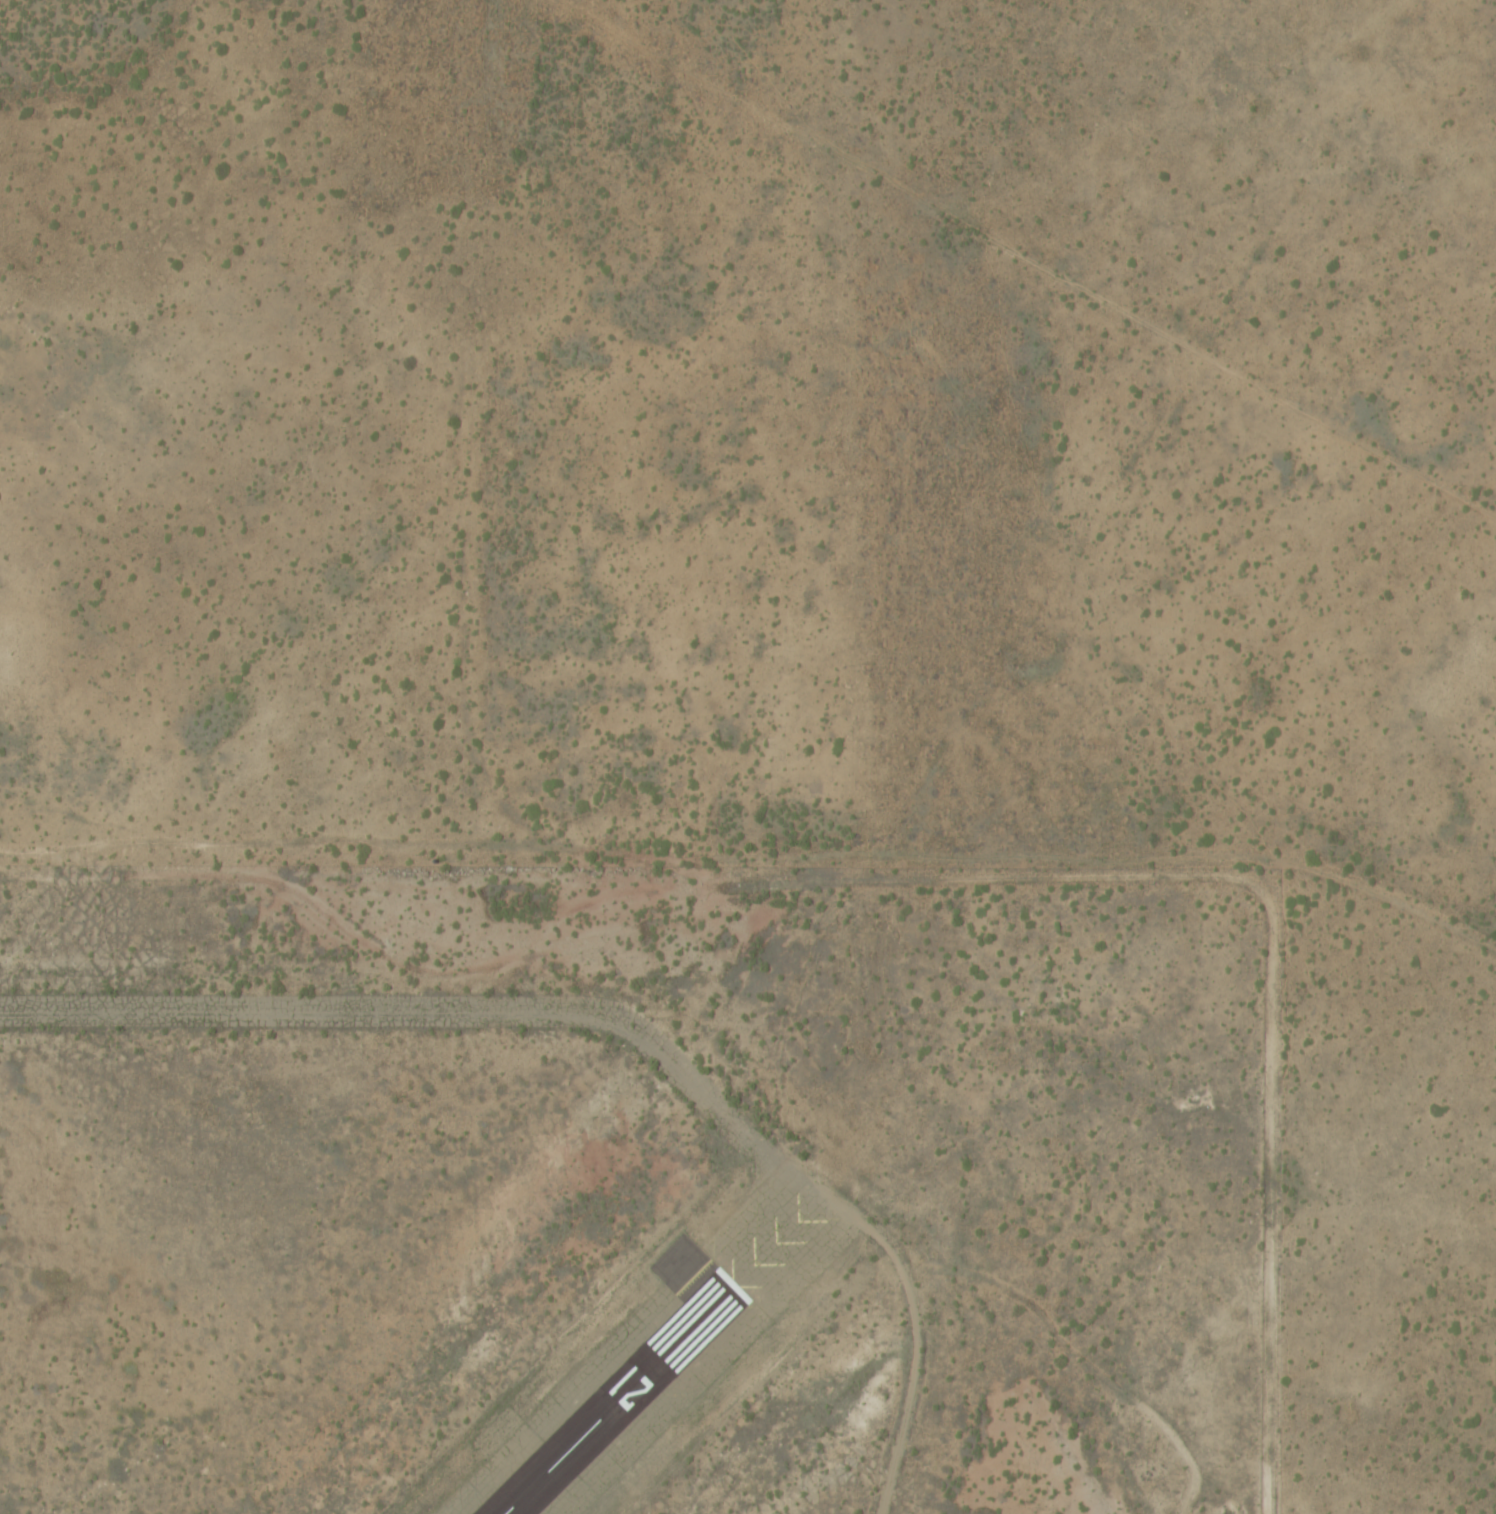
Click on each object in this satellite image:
road: (756, 854)
airport taxiway: (499, 1011)
airport runway: (617, 1398)

